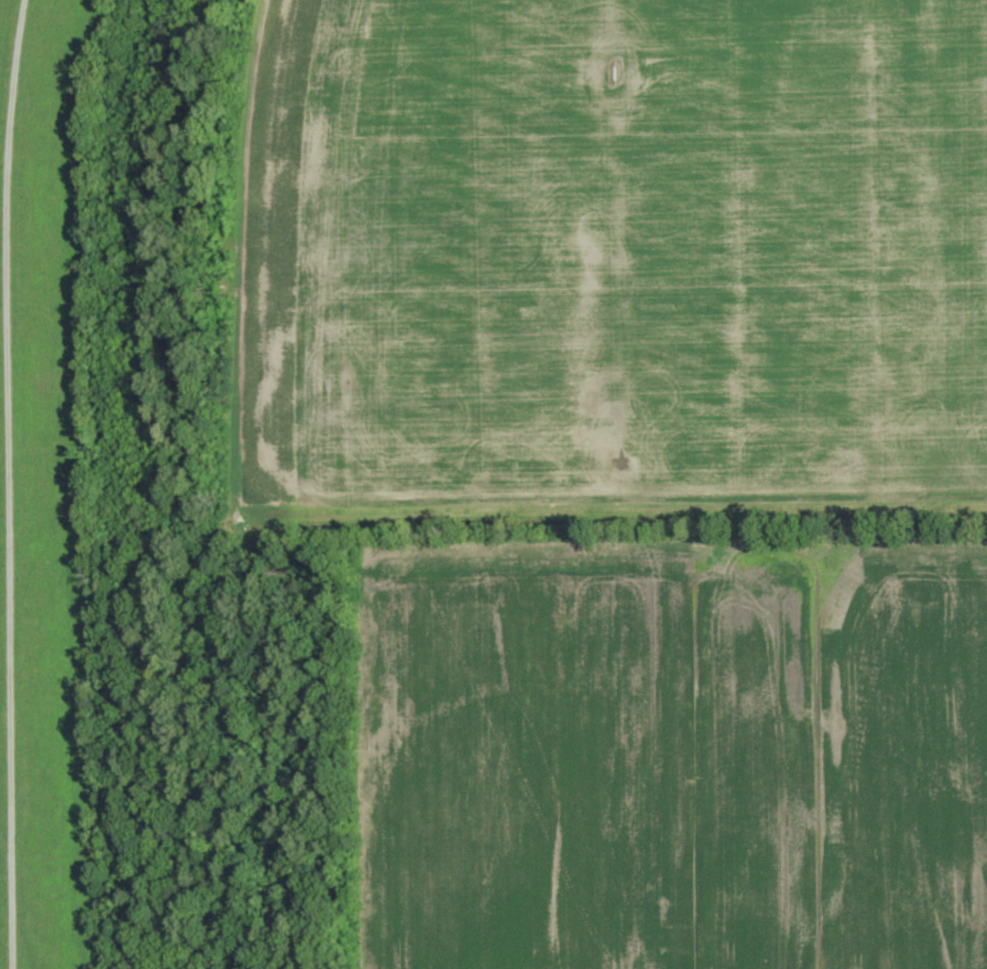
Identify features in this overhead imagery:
road: (8, 483)

